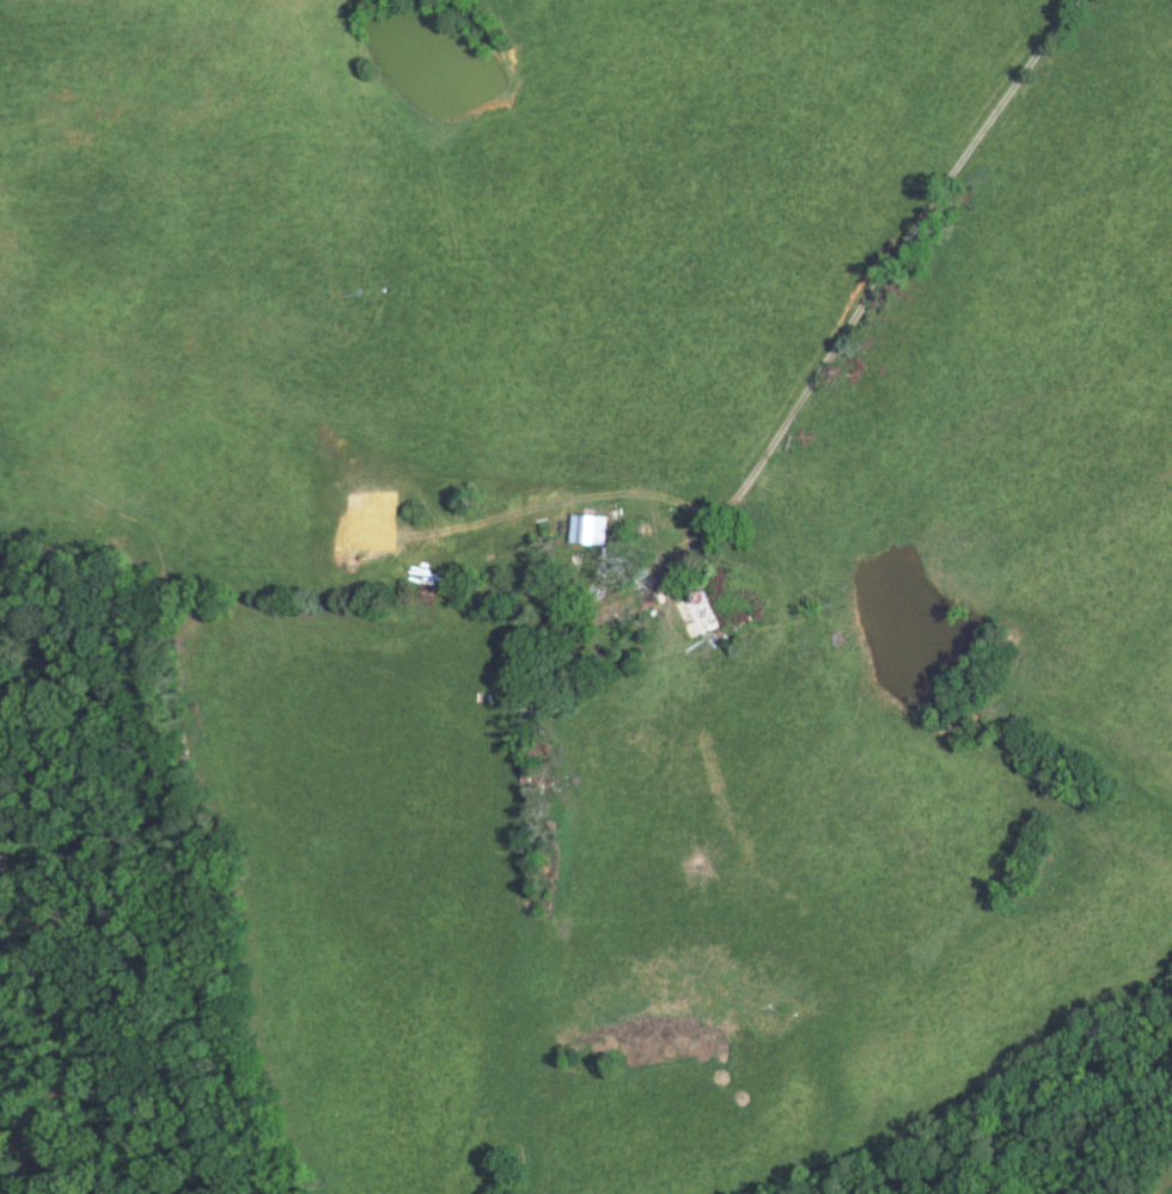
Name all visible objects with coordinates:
building: (628, 604)
building: (704, 611)

